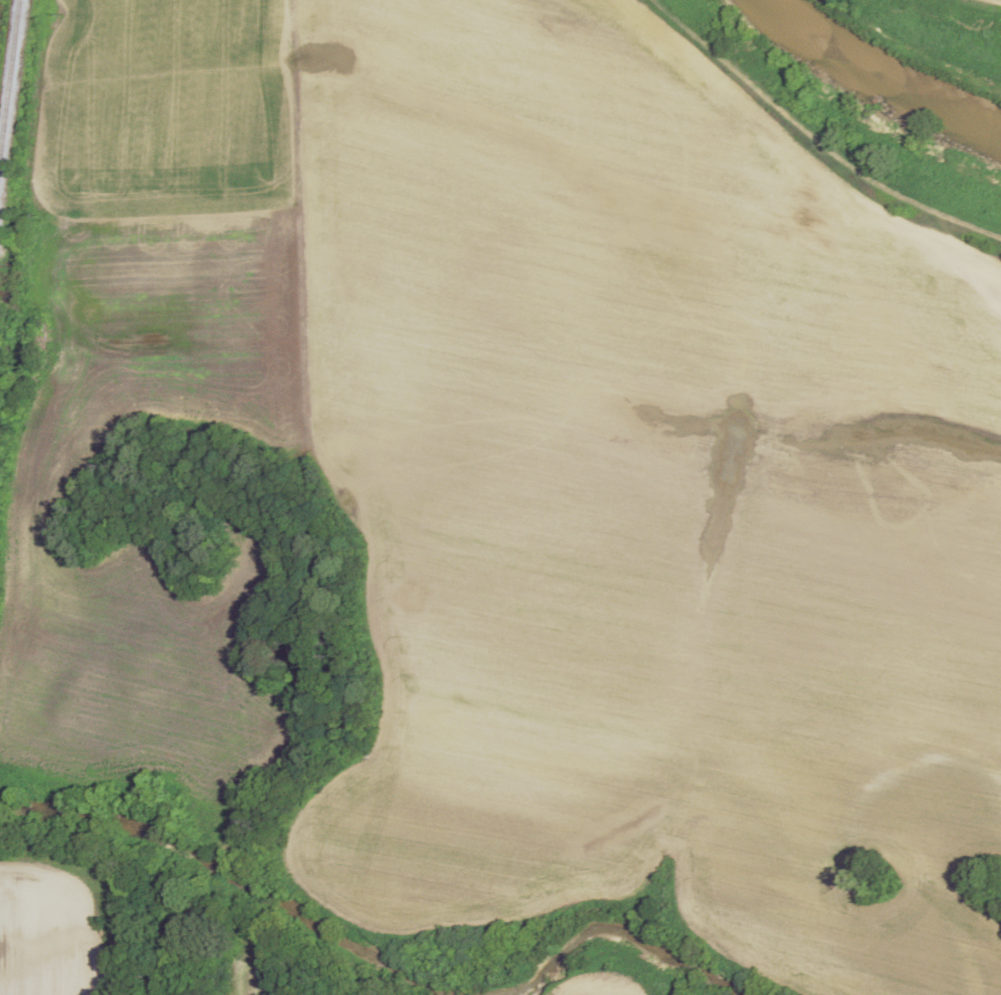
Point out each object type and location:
railway: (9, 78)
river: (872, 85)

